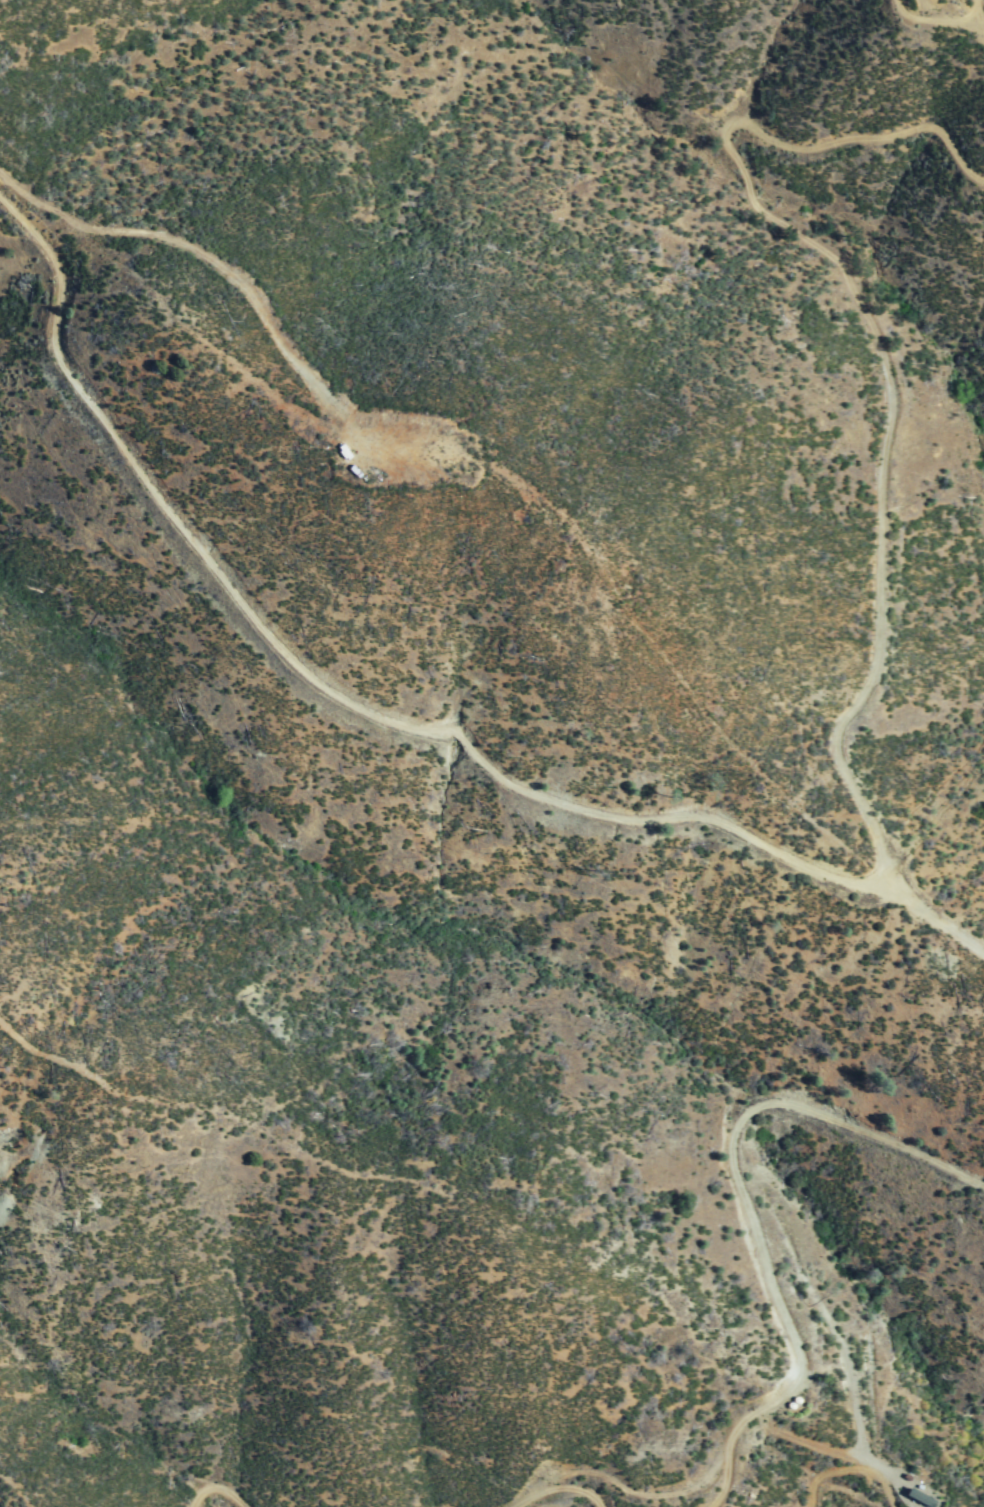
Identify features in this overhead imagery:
road: (380, 716)
road: (737, 1187)

